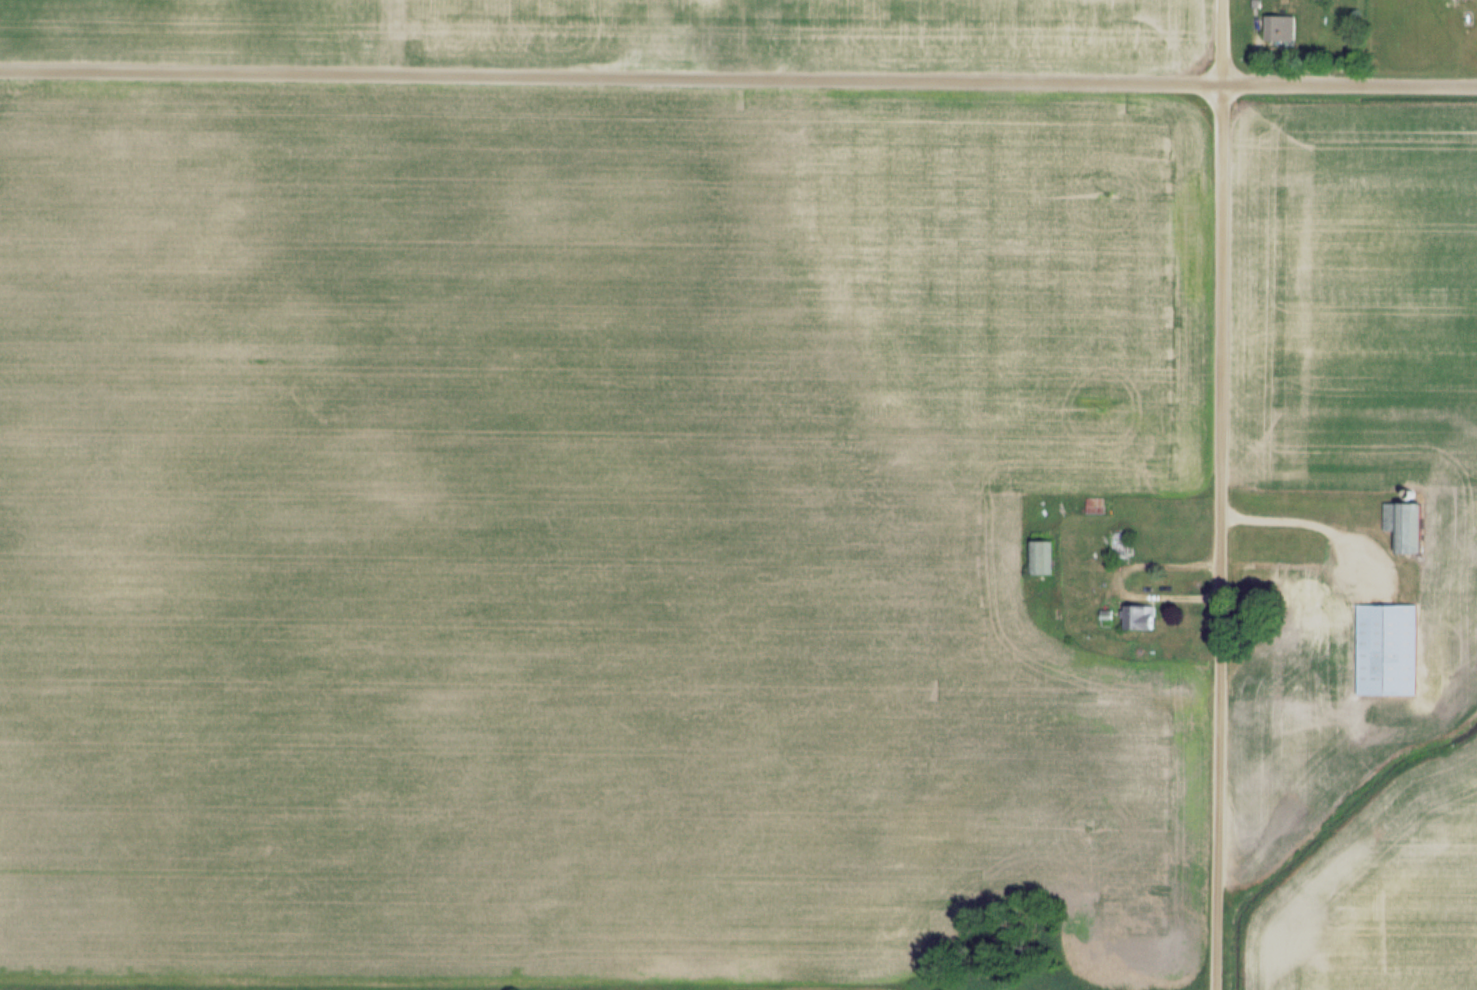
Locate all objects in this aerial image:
building: (1280, 28)
road: (738, 78)
road: (1218, 495)
building: (1095, 506)
road: (1303, 519)
building: (1405, 524)
building: (1119, 545)
building: (1043, 556)
building: (1314, 602)
building: (1106, 616)
building: (1140, 616)
building: (1387, 649)

